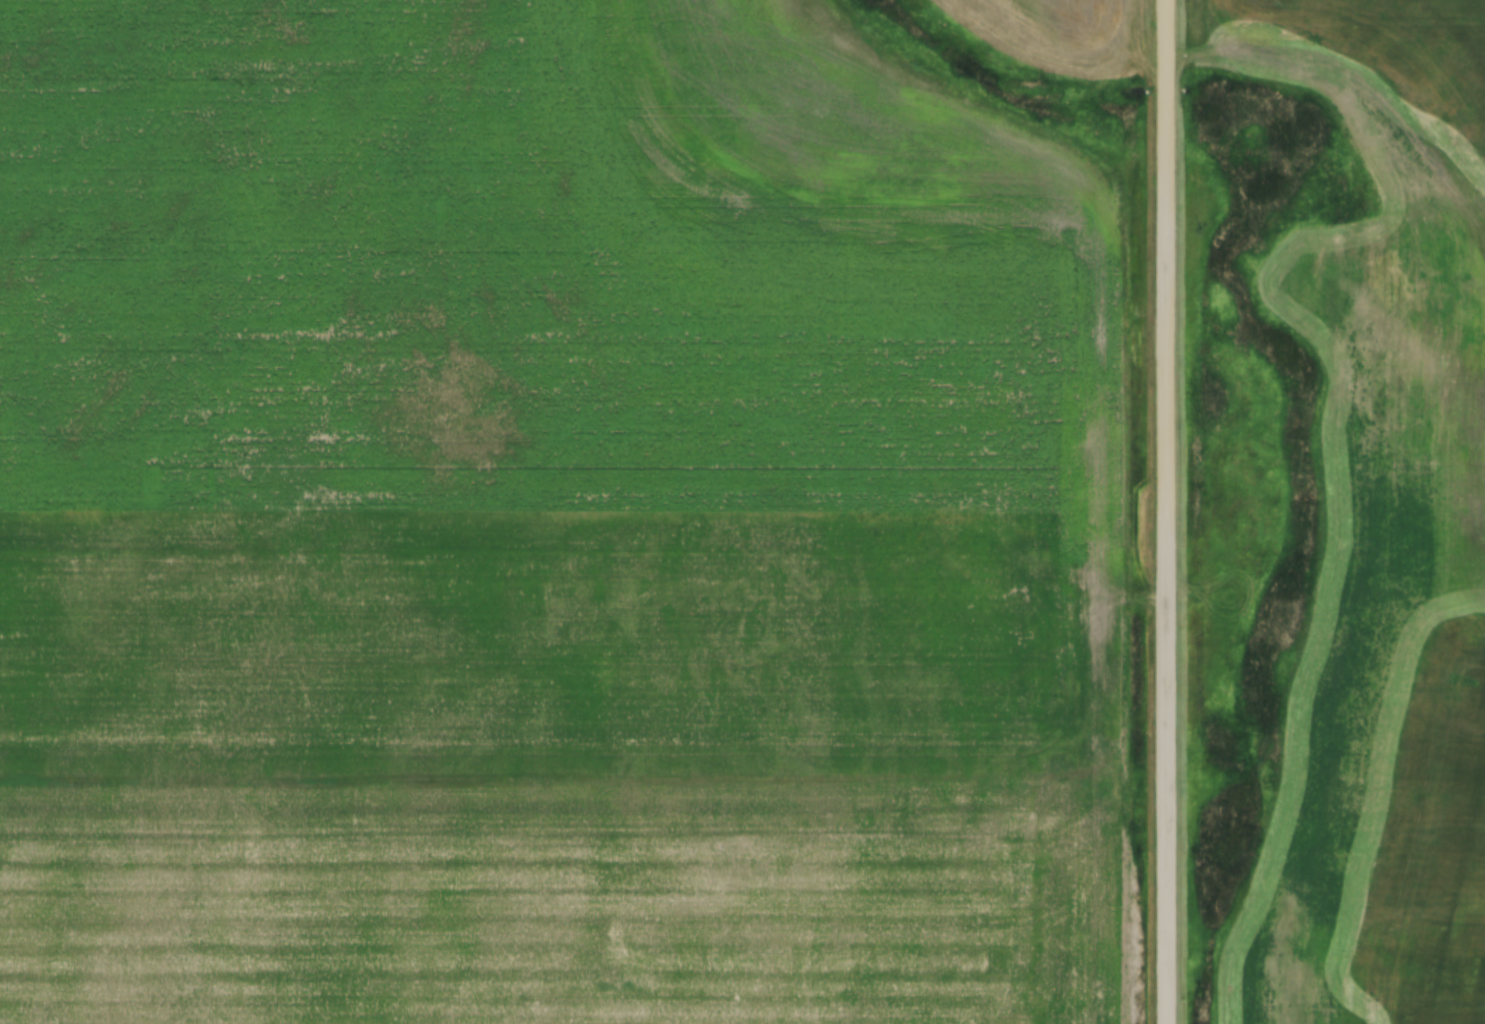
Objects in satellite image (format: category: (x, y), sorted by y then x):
road: (1167, 512)

